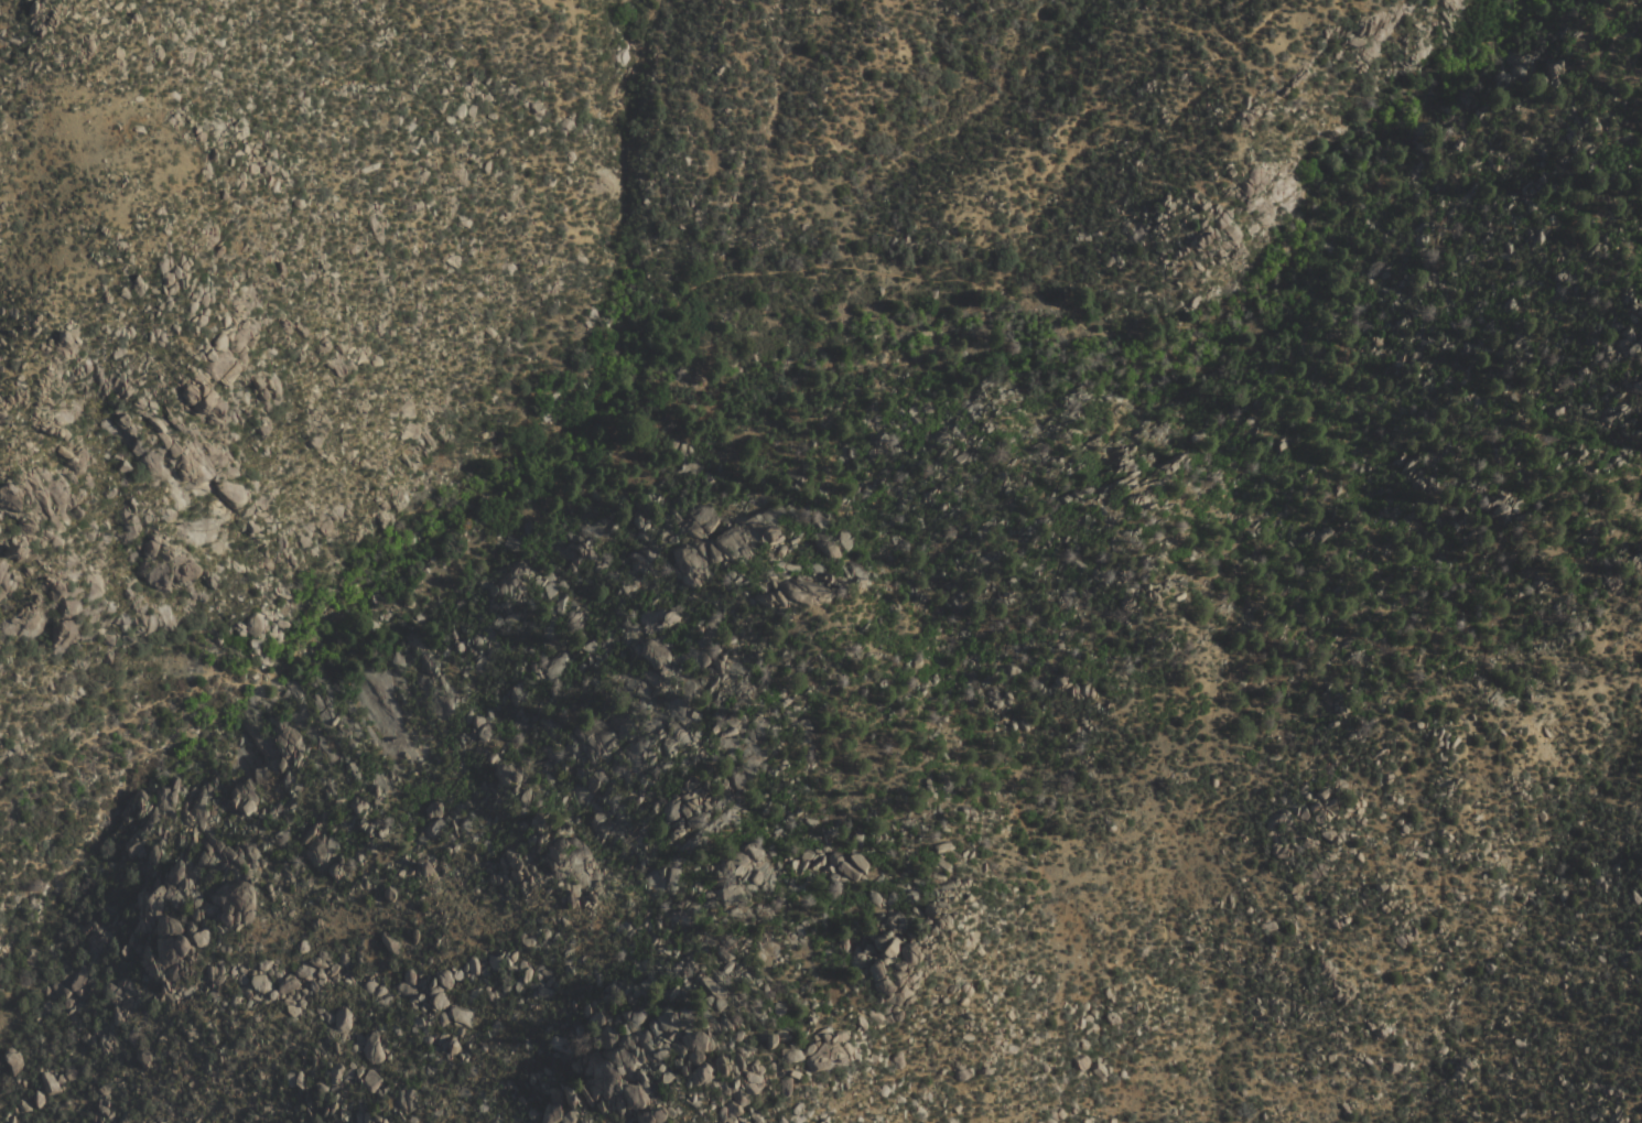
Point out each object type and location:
road: (736, 292)
building: (704, 519)
building: (732, 546)
building: (7, 580)
building: (290, 743)
building: (241, 801)
building: (215, 855)
building: (851, 865)
building: (260, 982)
building: (460, 1015)
building: (343, 1019)
building: (372, 1047)
building: (687, 1060)
building: (370, 1078)
building: (746, 1078)
building: (635, 1103)

